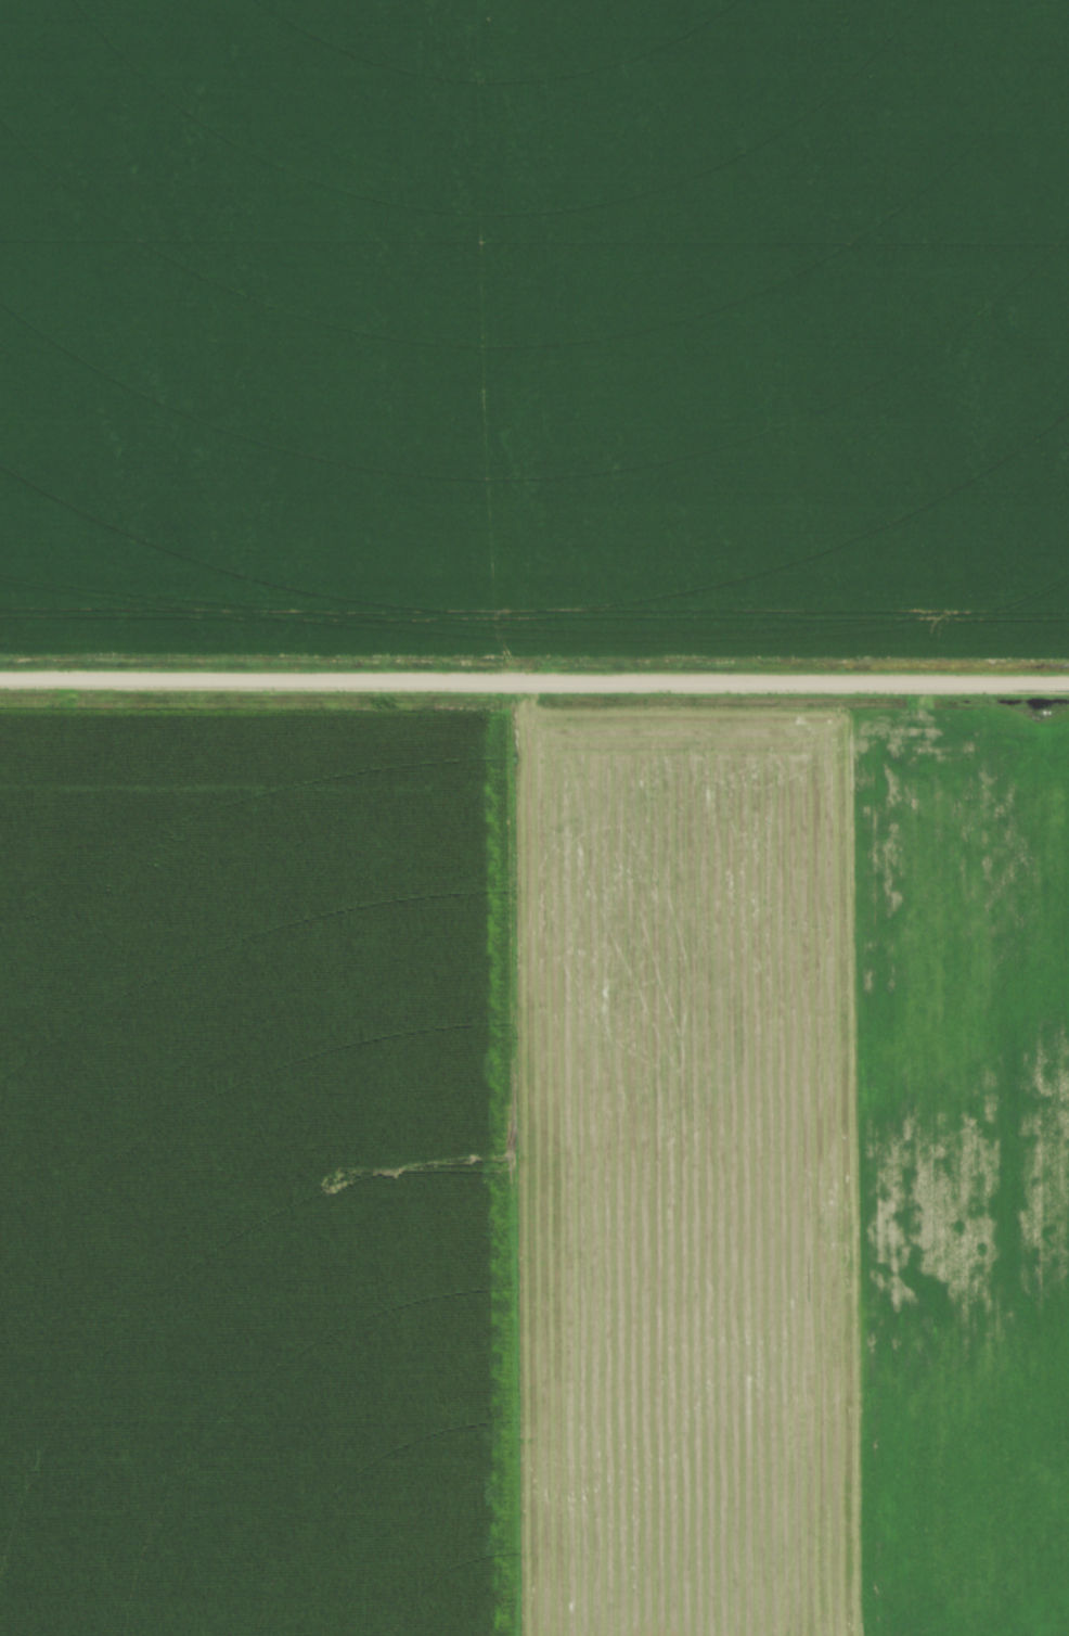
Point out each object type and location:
crop: (534, 324)
road: (534, 681)
crop: (533, 1172)

